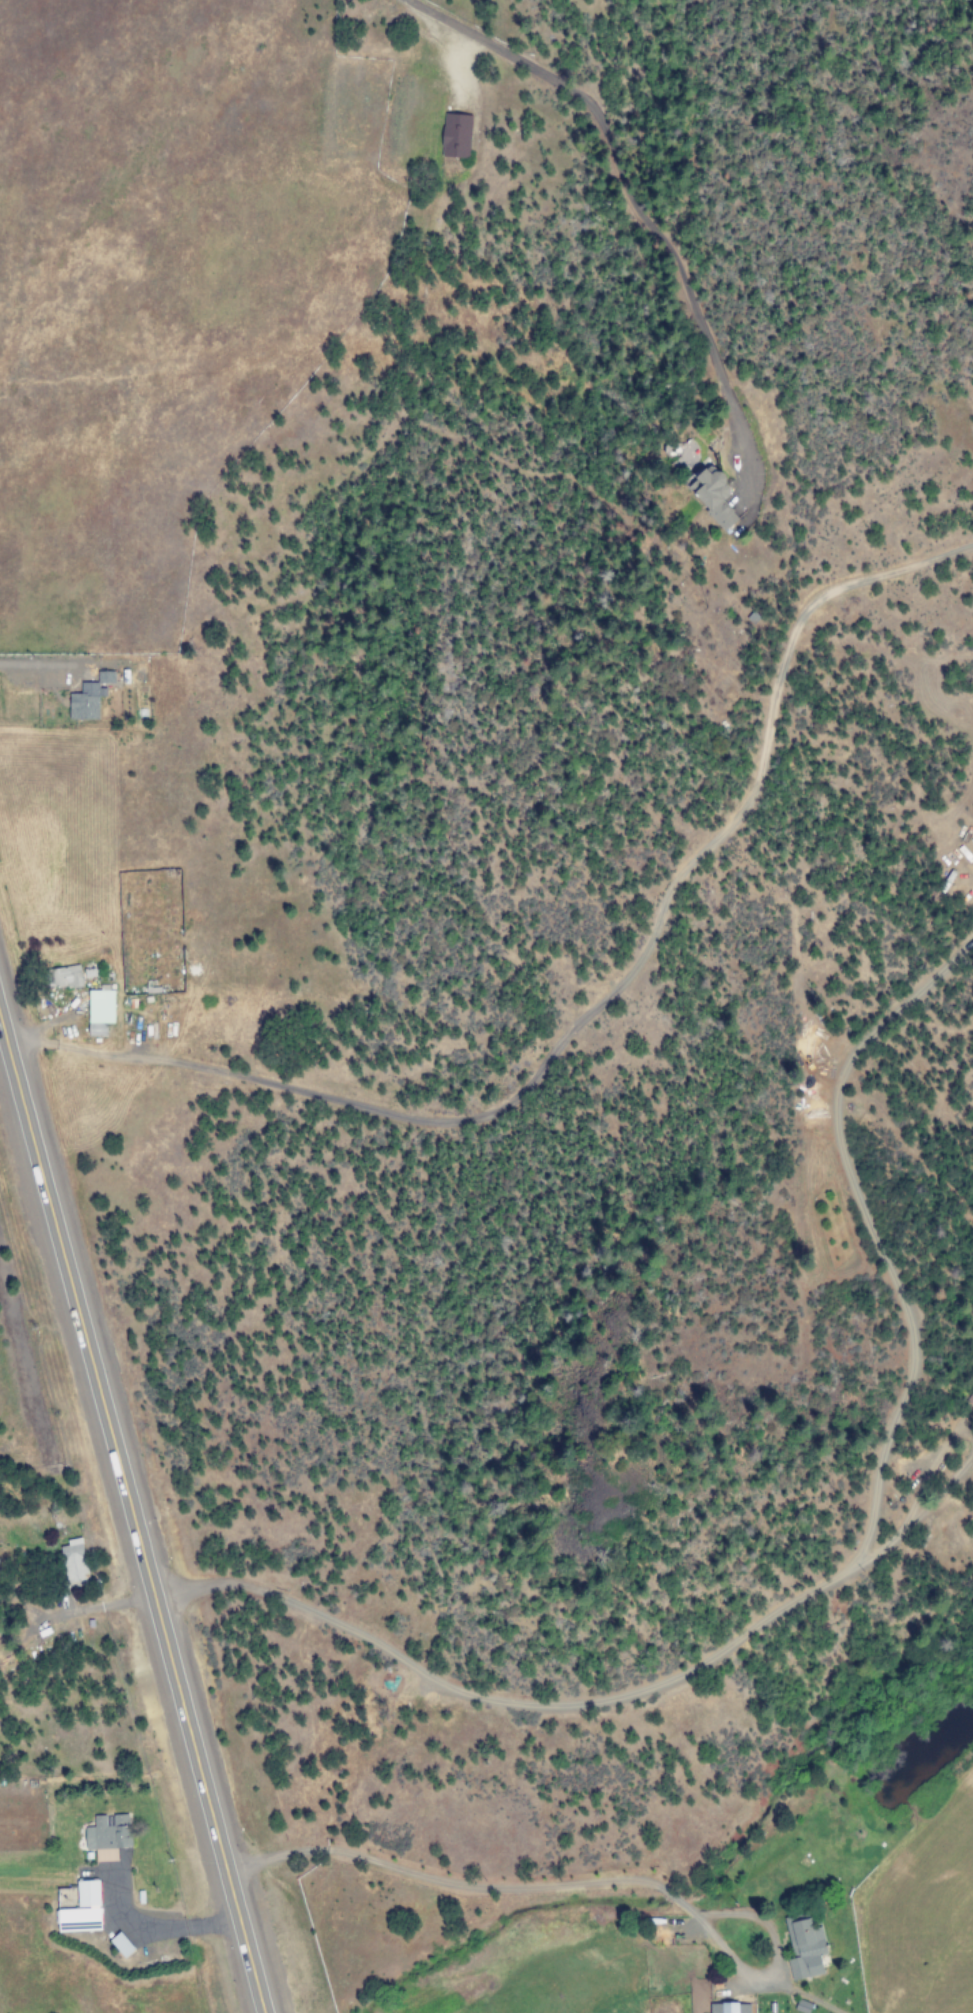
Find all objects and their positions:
building: (455, 136)
road: (631, 210)
building: (712, 496)
building: (85, 701)
building: (63, 976)
road: (591, 1003)
building: (101, 1004)
road: (129, 1509)
building: (73, 1560)
road: (826, 1576)
building: (107, 1836)
road: (572, 1884)
building: (82, 1909)
building: (121, 1945)
building: (804, 1949)
building: (729, 2008)

